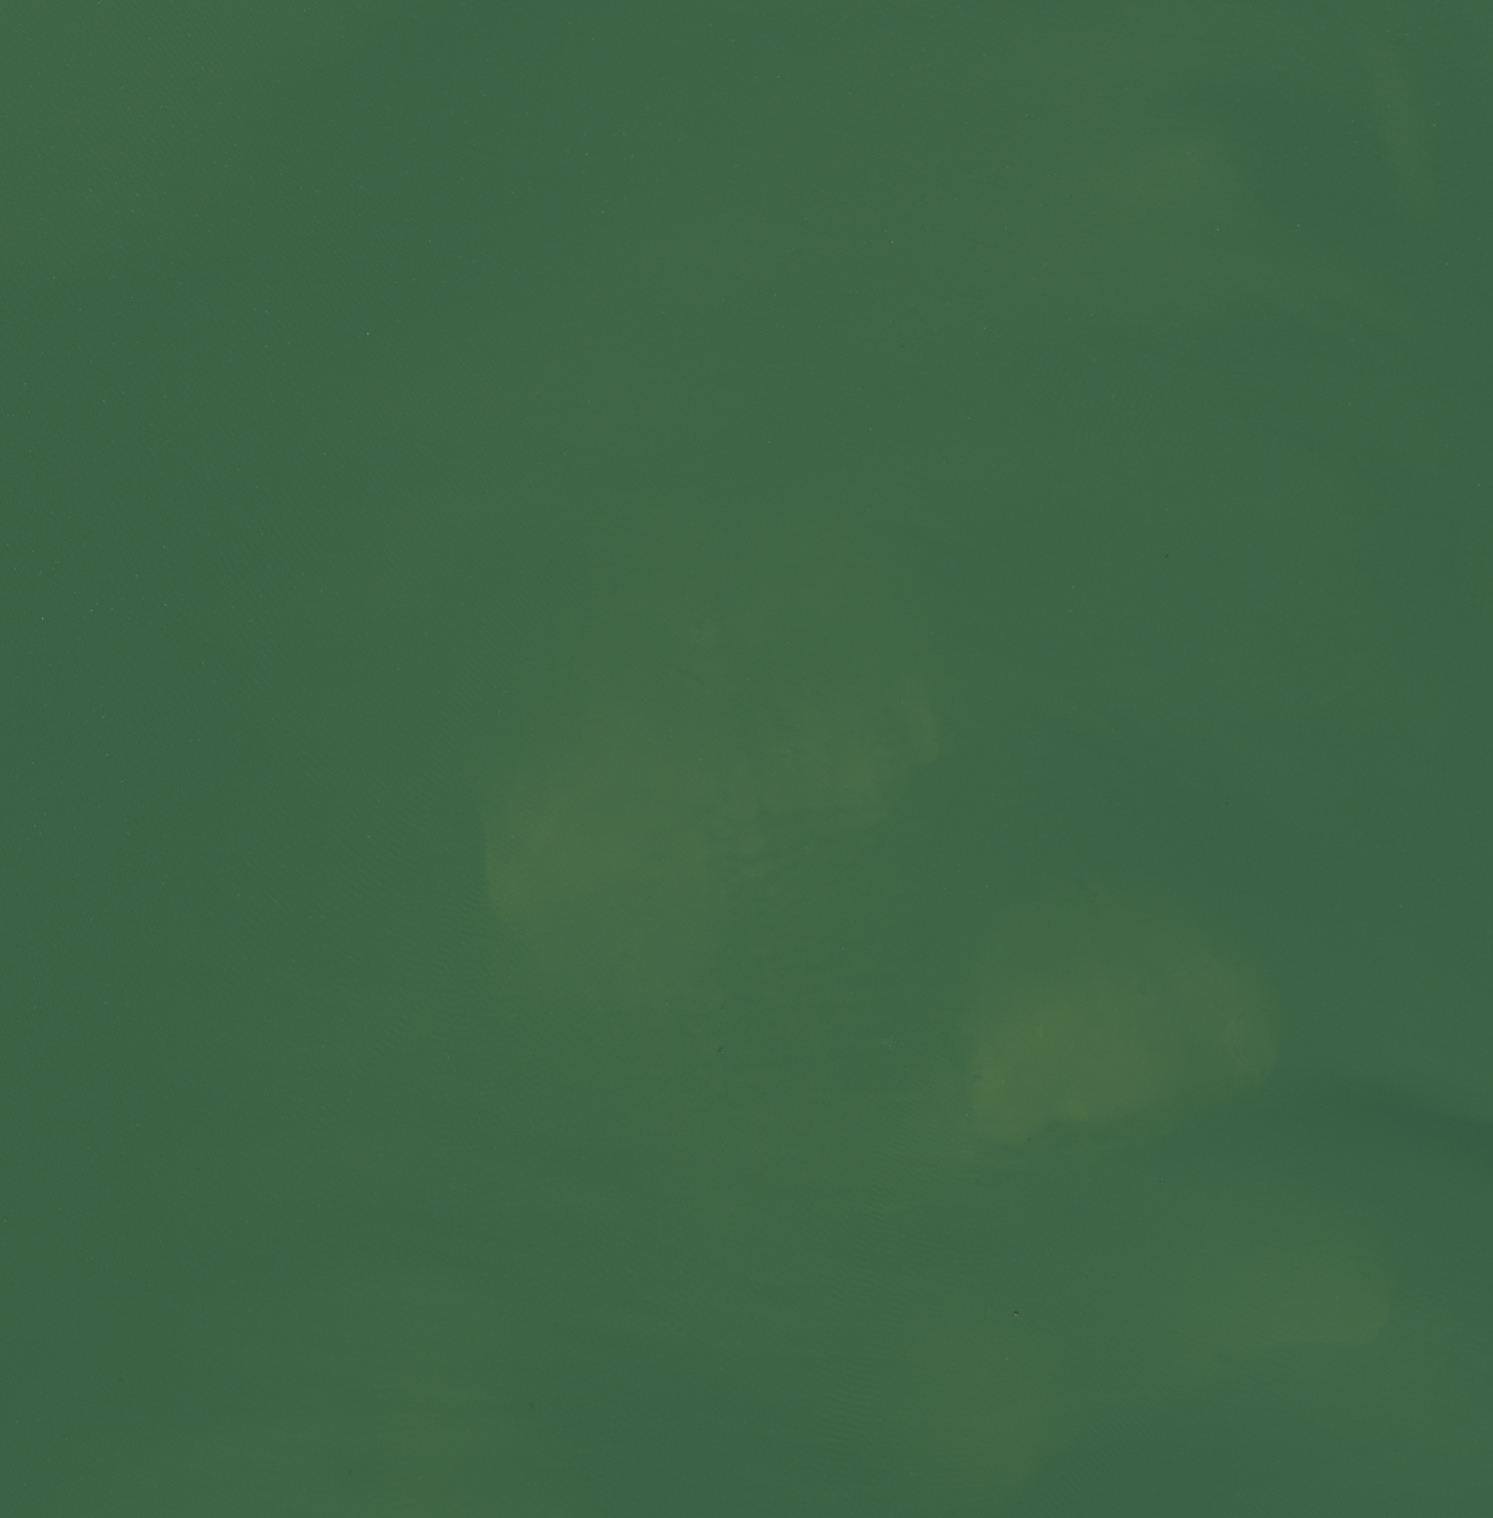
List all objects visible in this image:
river: (1393, 177)

